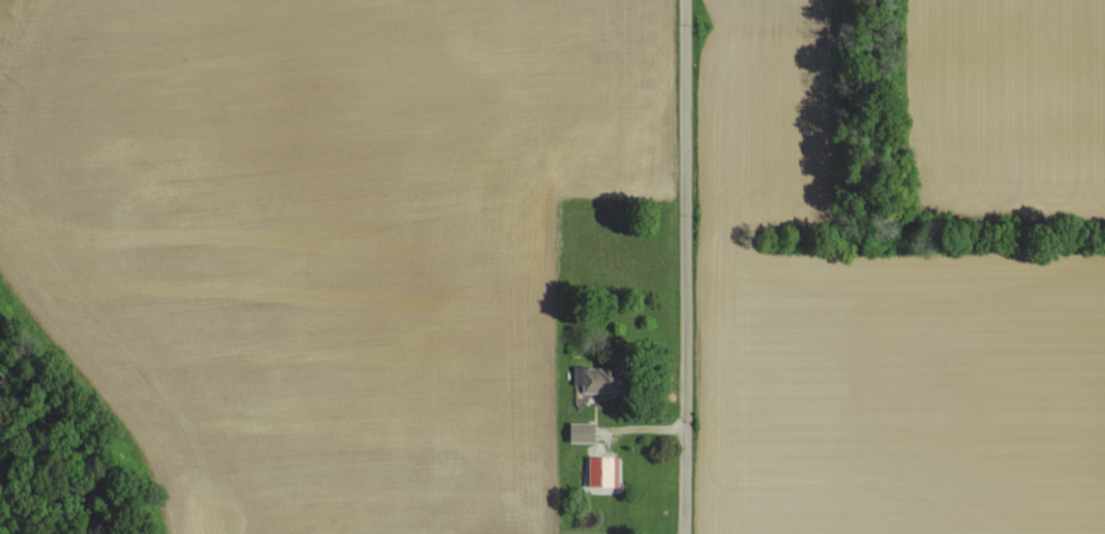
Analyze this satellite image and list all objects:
road: (677, 266)
building: (606, 378)
building: (583, 431)
building: (605, 469)

